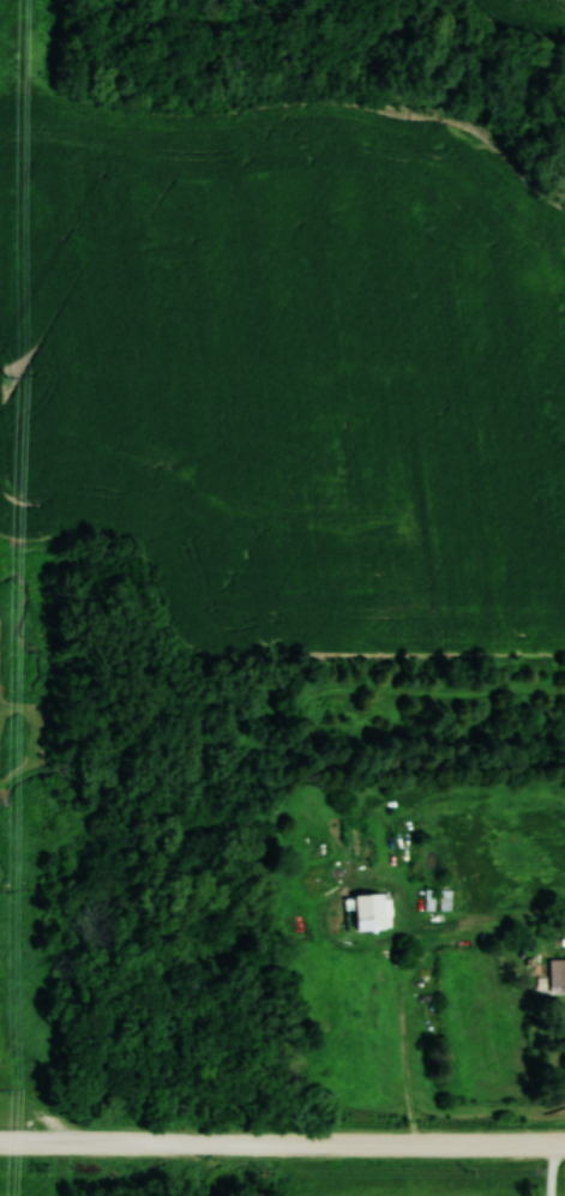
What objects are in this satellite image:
power tower: (8, 344)
building: (363, 913)
building: (557, 974)
road: (282, 1144)
road: (553, 1170)

